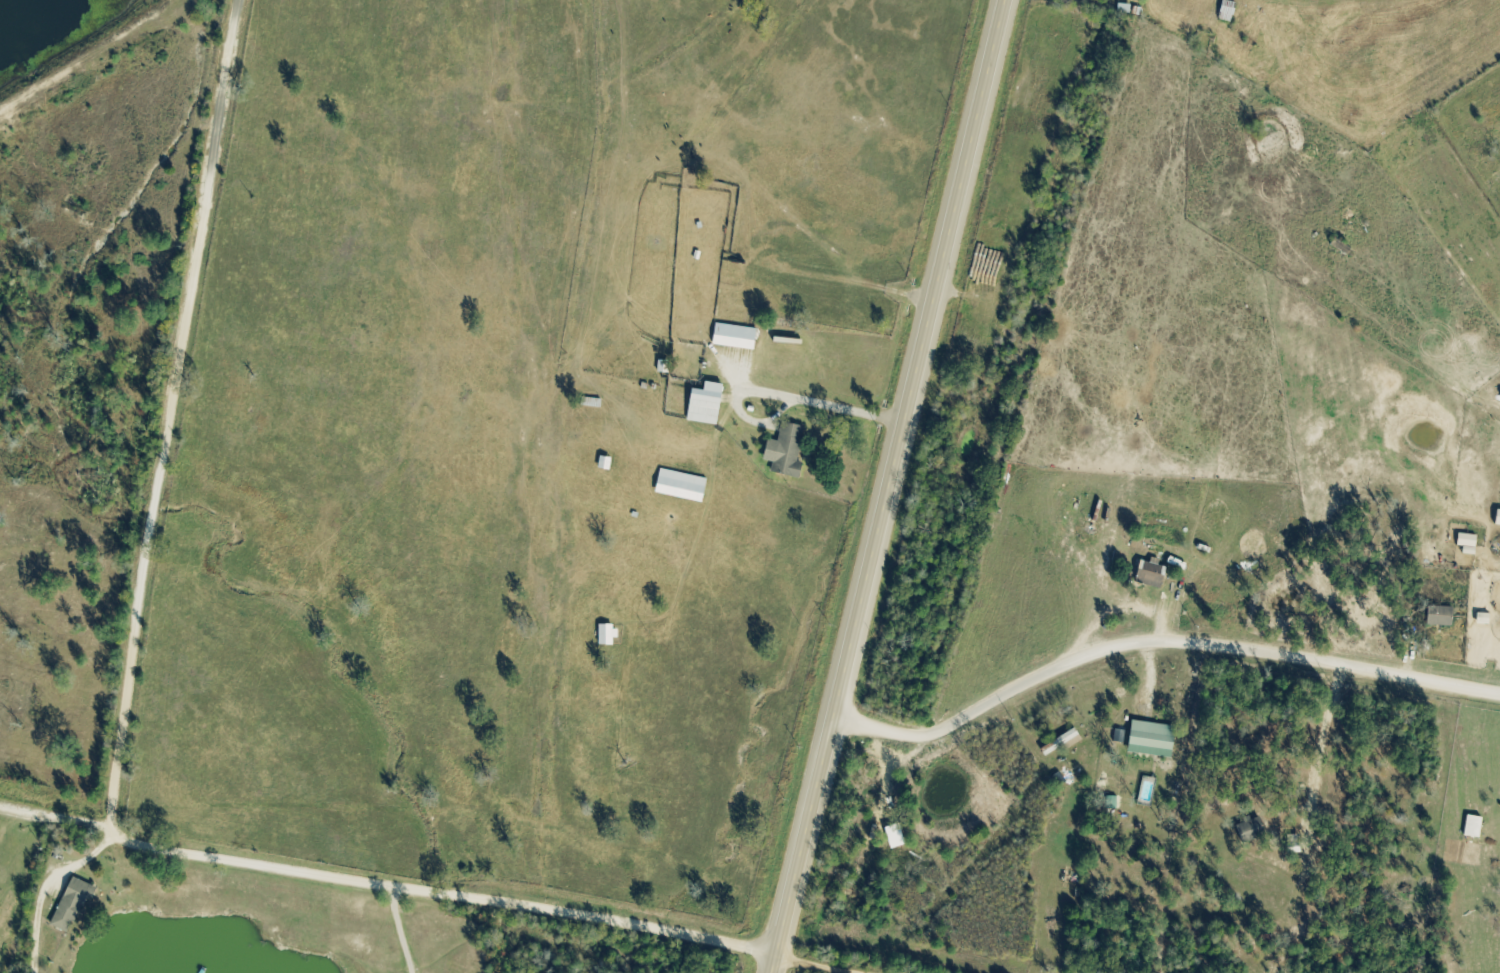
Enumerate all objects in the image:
building: (738, 338)
building: (666, 367)
building: (710, 405)
road: (171, 414)
building: (789, 452)
road: (890, 486)
railway: (980, 486)
building: (685, 487)
building: (1499, 526)
building: (1470, 545)
building: (1153, 575)
building: (1444, 617)
building: (610, 636)
road: (1159, 641)
building: (1154, 741)
road: (54, 818)
building: (1476, 828)
building: (1297, 845)
road: (48, 888)
road: (445, 893)
building: (74, 908)
road: (403, 930)
road: (811, 967)

